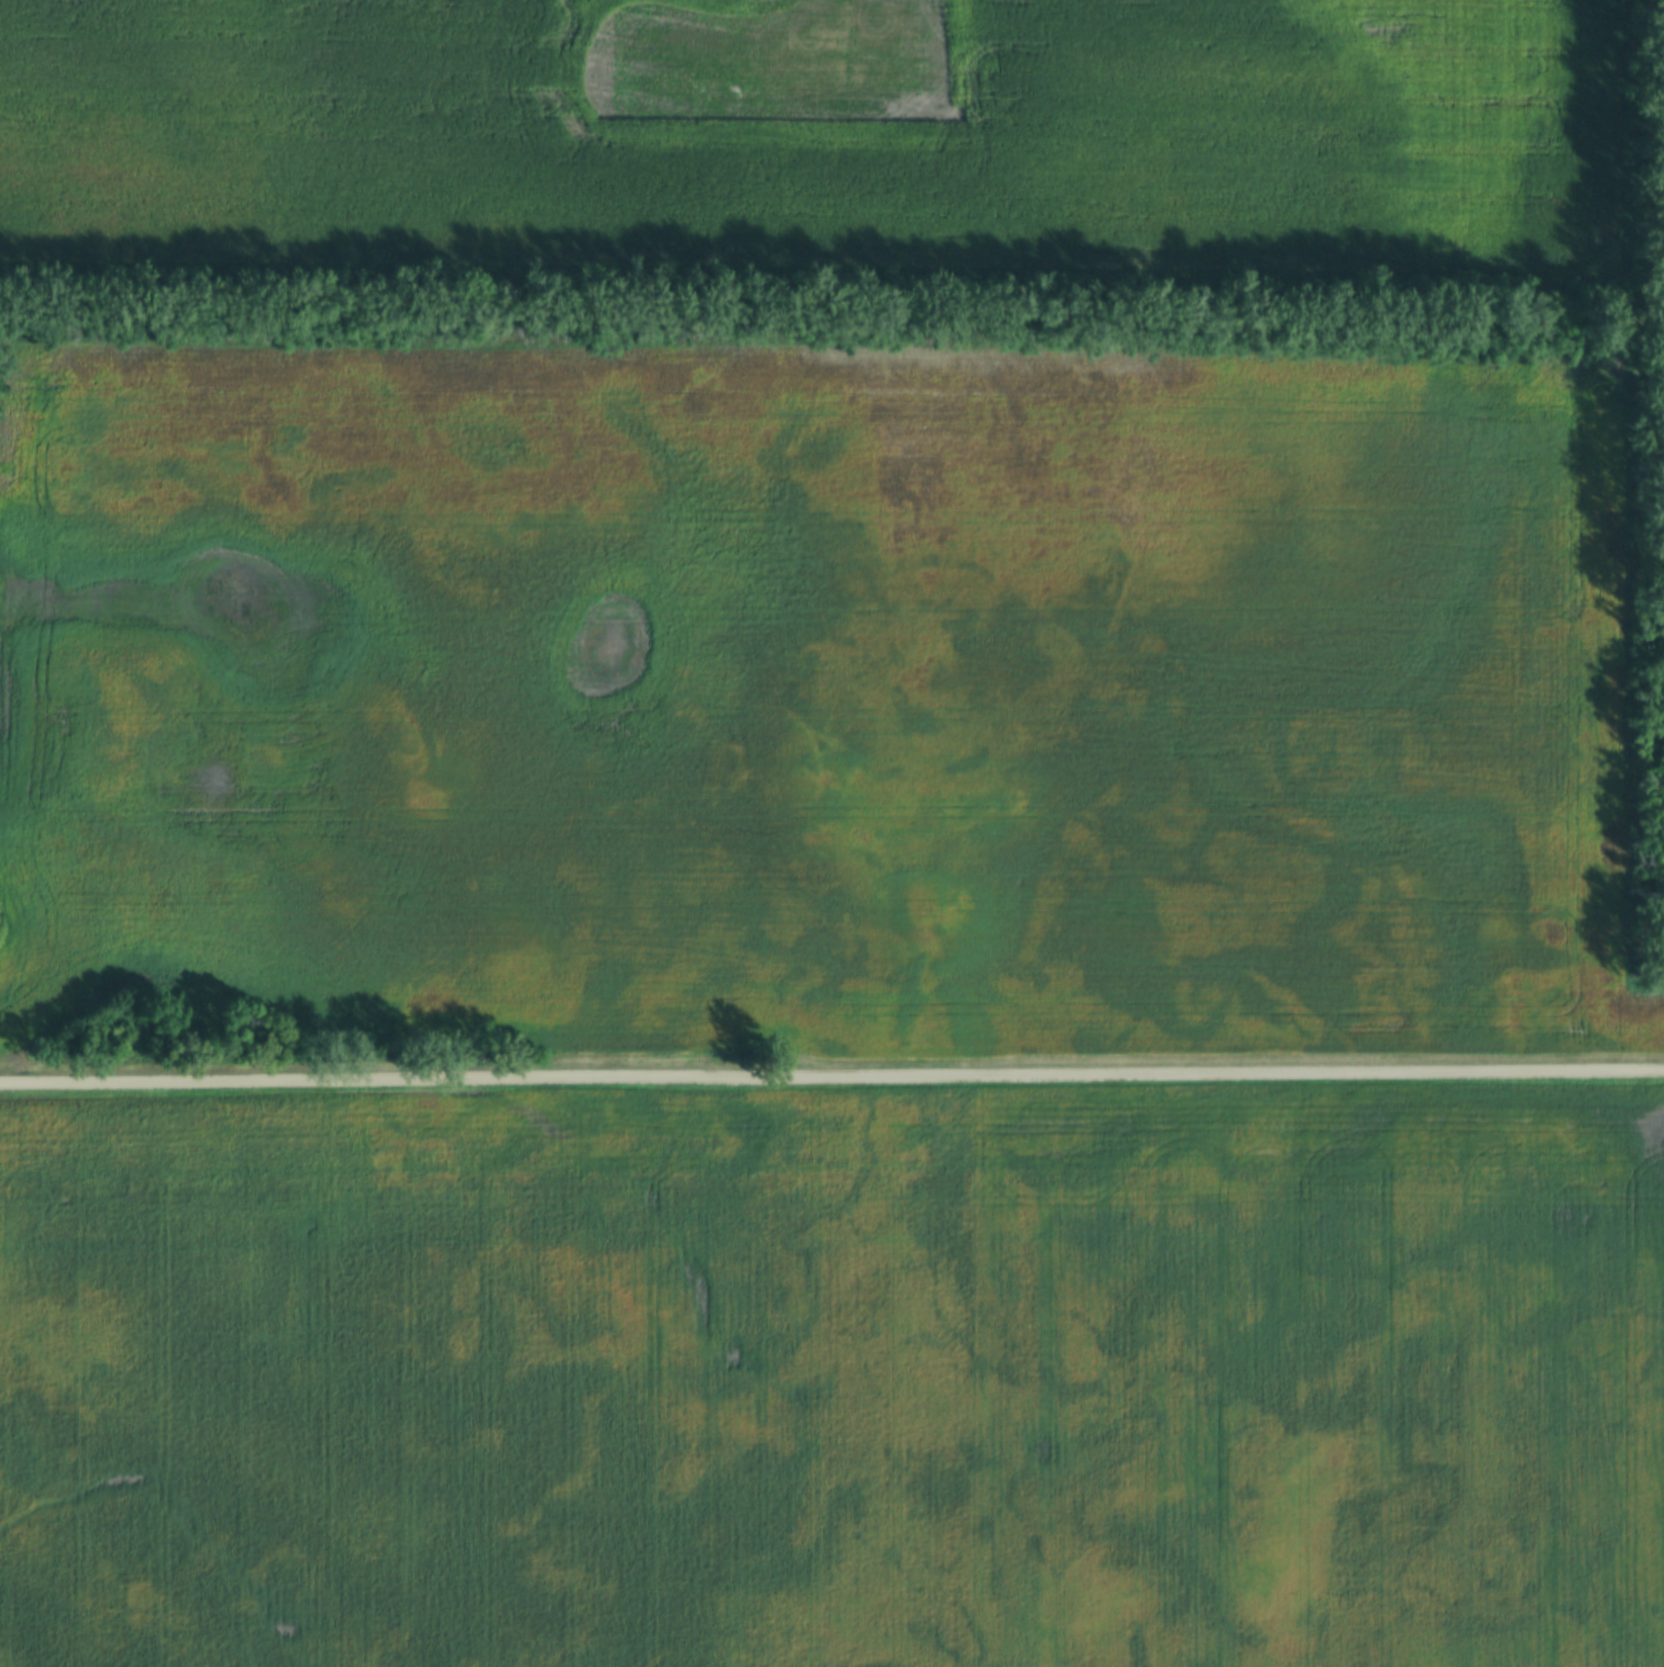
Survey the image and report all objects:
road: (831, 1079)

